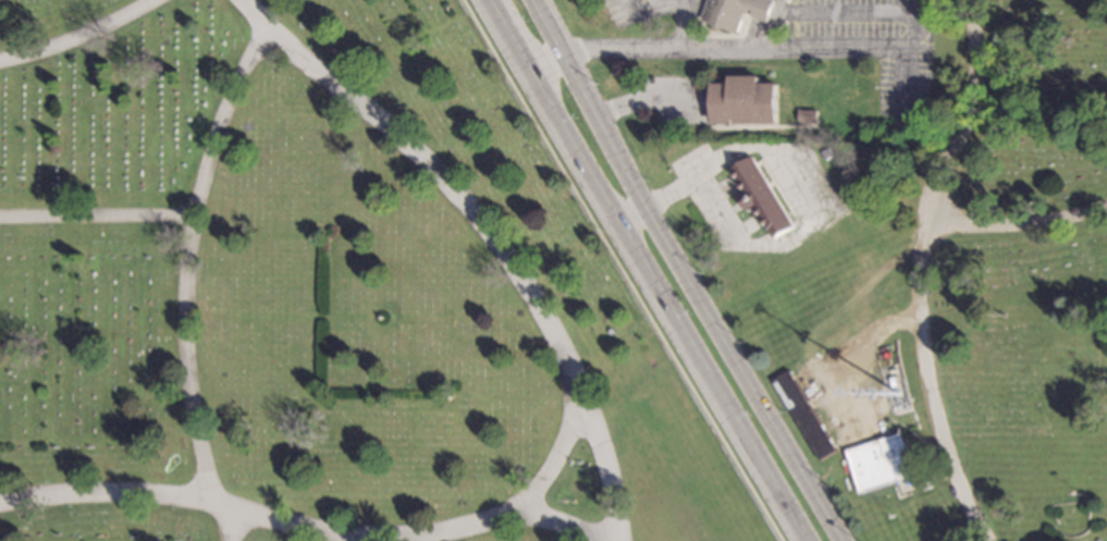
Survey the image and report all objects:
parking lot: (641, 0)
road: (682, 3)
road: (639, 11)
parking lot: (618, 12)
building: (735, 12)
road: (854, 12)
parking lot: (857, 20)
road: (681, 24)
road: (771, 25)
road: (78, 37)
road: (751, 50)
building: (743, 101)
building: (808, 116)
building: (825, 153)
road: (798, 170)
building: (761, 197)
road: (95, 217)
road: (1018, 225)
road: (484, 231)
road: (620, 270)
road: (639, 270)
road: (684, 270)
road: (915, 270)
road: (183, 281)
park: (315, 293)
park: (968, 303)
building: (381, 319)
building: (891, 382)
building: (803, 416)
building: (881, 462)
road: (558, 521)
road: (323, 532)

